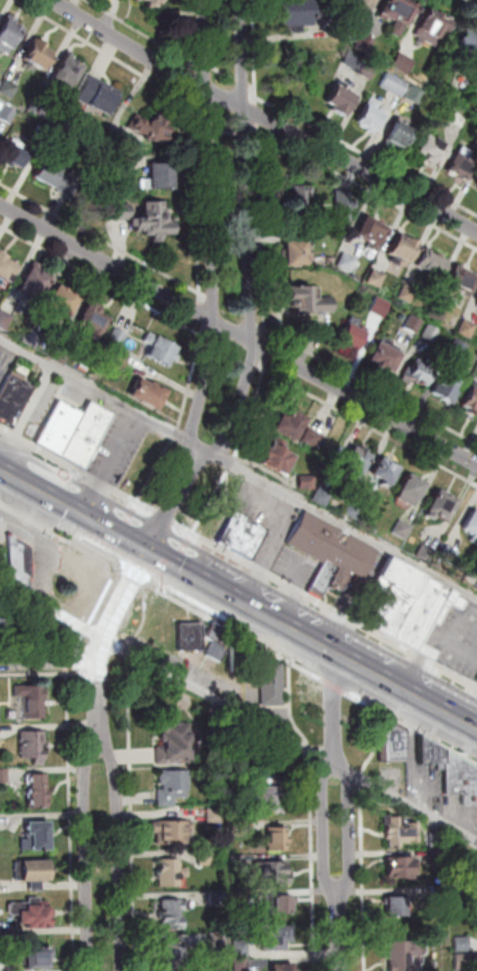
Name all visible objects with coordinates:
building: (131, 0)
building: (372, 1)
road: (474, 1)
building: (152, 3)
building: (362, 4)
building: (302, 13)
building: (400, 14)
building: (433, 30)
road: (140, 31)
road: (190, 31)
building: (8, 38)
building: (366, 44)
road: (105, 50)
building: (470, 50)
building: (37, 56)
road: (193, 57)
road: (203, 61)
building: (404, 64)
road: (191, 65)
building: (361, 65)
road: (223, 71)
building: (67, 75)
road: (191, 80)
road: (242, 80)
road: (251, 85)
building: (395, 85)
building: (9, 89)
building: (417, 95)
building: (100, 98)
building: (342, 102)
building: (39, 107)
road: (254, 108)
building: (8, 114)
building: (372, 117)
road: (263, 118)
road: (195, 125)
road: (258, 125)
road: (206, 127)
building: (152, 128)
road: (224, 131)
road: (323, 132)
road: (242, 134)
building: (44, 135)
road: (254, 135)
building: (398, 137)
building: (433, 153)
building: (15, 158)
building: (117, 165)
building: (462, 166)
building: (47, 176)
building: (162, 178)
building: (66, 186)
road: (367, 187)
building: (476, 192)
building: (297, 201)
building: (344, 207)
building: (119, 213)
building: (155, 222)
road: (208, 227)
building: (371, 234)
building: (297, 236)
road: (251, 239)
building: (403, 252)
building: (295, 256)
building: (332, 260)
building: (347, 263)
building: (433, 265)
building: (7, 268)
road: (100, 279)
building: (377, 279)
building: (463, 283)
road: (185, 284)
building: (34, 288)
building: (409, 294)
building: (475, 299)
building: (309, 302)
building: (62, 303)
building: (476, 305)
building: (381, 307)
building: (438, 313)
road: (203, 320)
building: (5, 321)
building: (93, 322)
building: (415, 325)
building: (468, 330)
building: (431, 334)
road: (238, 335)
building: (353, 336)
building: (32, 337)
road: (284, 337)
building: (117, 339)
building: (460, 349)
building: (161, 352)
building: (62, 354)
building: (386, 357)
building: (119, 360)
parking lot: (6, 365)
building: (419, 375)
road: (1, 384)
road: (96, 388)
building: (449, 389)
road: (259, 394)
building: (148, 397)
parking lot: (48, 401)
building: (13, 402)
building: (471, 403)
road: (27, 415)
road: (372, 426)
building: (291, 428)
building: (61, 430)
road: (177, 433)
building: (88, 436)
building: (314, 440)
parking lot: (122, 448)
building: (279, 463)
road: (233, 464)
building: (358, 465)
road: (76, 468)
road: (158, 472)
building: (387, 474)
road: (12, 477)
building: (308, 484)
building: (412, 494)
building: (324, 498)
road: (171, 500)
road: (213, 503)
road: (67, 507)
building: (356, 509)
building: (442, 509)
road: (163, 516)
road: (43, 524)
road: (346, 524)
building: (472, 529)
traffic signals: (111, 530)
building: (403, 531)
building: (239, 533)
road: (127, 539)
building: (329, 543)
traffic signals: (144, 549)
building: (426, 553)
road: (99, 555)
building: (451, 556)
road: (170, 558)
building: (19, 560)
road: (182, 570)
road: (130, 572)
building: (321, 577)
building: (338, 578)
road: (235, 597)
building: (402, 601)
road: (324, 606)
building: (18, 621)
road: (295, 630)
road: (238, 631)
road: (68, 634)
road: (99, 636)
building: (191, 639)
building: (219, 643)
road: (90, 644)
road: (40, 645)
building: (239, 655)
road: (50, 659)
road: (69, 659)
road: (43, 674)
road: (99, 676)
road: (121, 678)
building: (273, 686)
road: (337, 686)
road: (409, 691)
building: (33, 703)
road: (238, 709)
road: (336, 709)
road: (412, 726)
building: (216, 728)
road: (379, 742)
building: (393, 743)
building: (176, 746)
building: (34, 747)
building: (430, 755)
building: (4, 774)
road: (133, 774)
road: (363, 778)
building: (460, 780)
building: (174, 786)
building: (39, 791)
building: (275, 795)
road: (314, 813)
building: (216, 816)
road: (72, 819)
road: (327, 826)
road: (352, 828)
building: (238, 829)
building: (173, 833)
building: (402, 833)
building: (37, 838)
building: (278, 838)
building: (438, 841)
road: (88, 855)
road: (120, 855)
building: (209, 858)
building: (439, 859)
building: (239, 863)
building: (400, 869)
building: (172, 873)
building: (33, 874)
building: (272, 875)
road: (365, 878)
building: (460, 885)
building: (440, 892)
building: (240, 898)
building: (219, 899)
building: (278, 904)
building: (397, 909)
building: (175, 914)
building: (32, 916)
road: (340, 931)
building: (275, 937)
building: (219, 941)
building: (463, 943)
building: (242, 949)
building: (401, 957)
building: (173, 958)
building: (38, 960)
building: (465, 962)
building: (241, 965)
building: (283, 967)
building: (434, 970)

